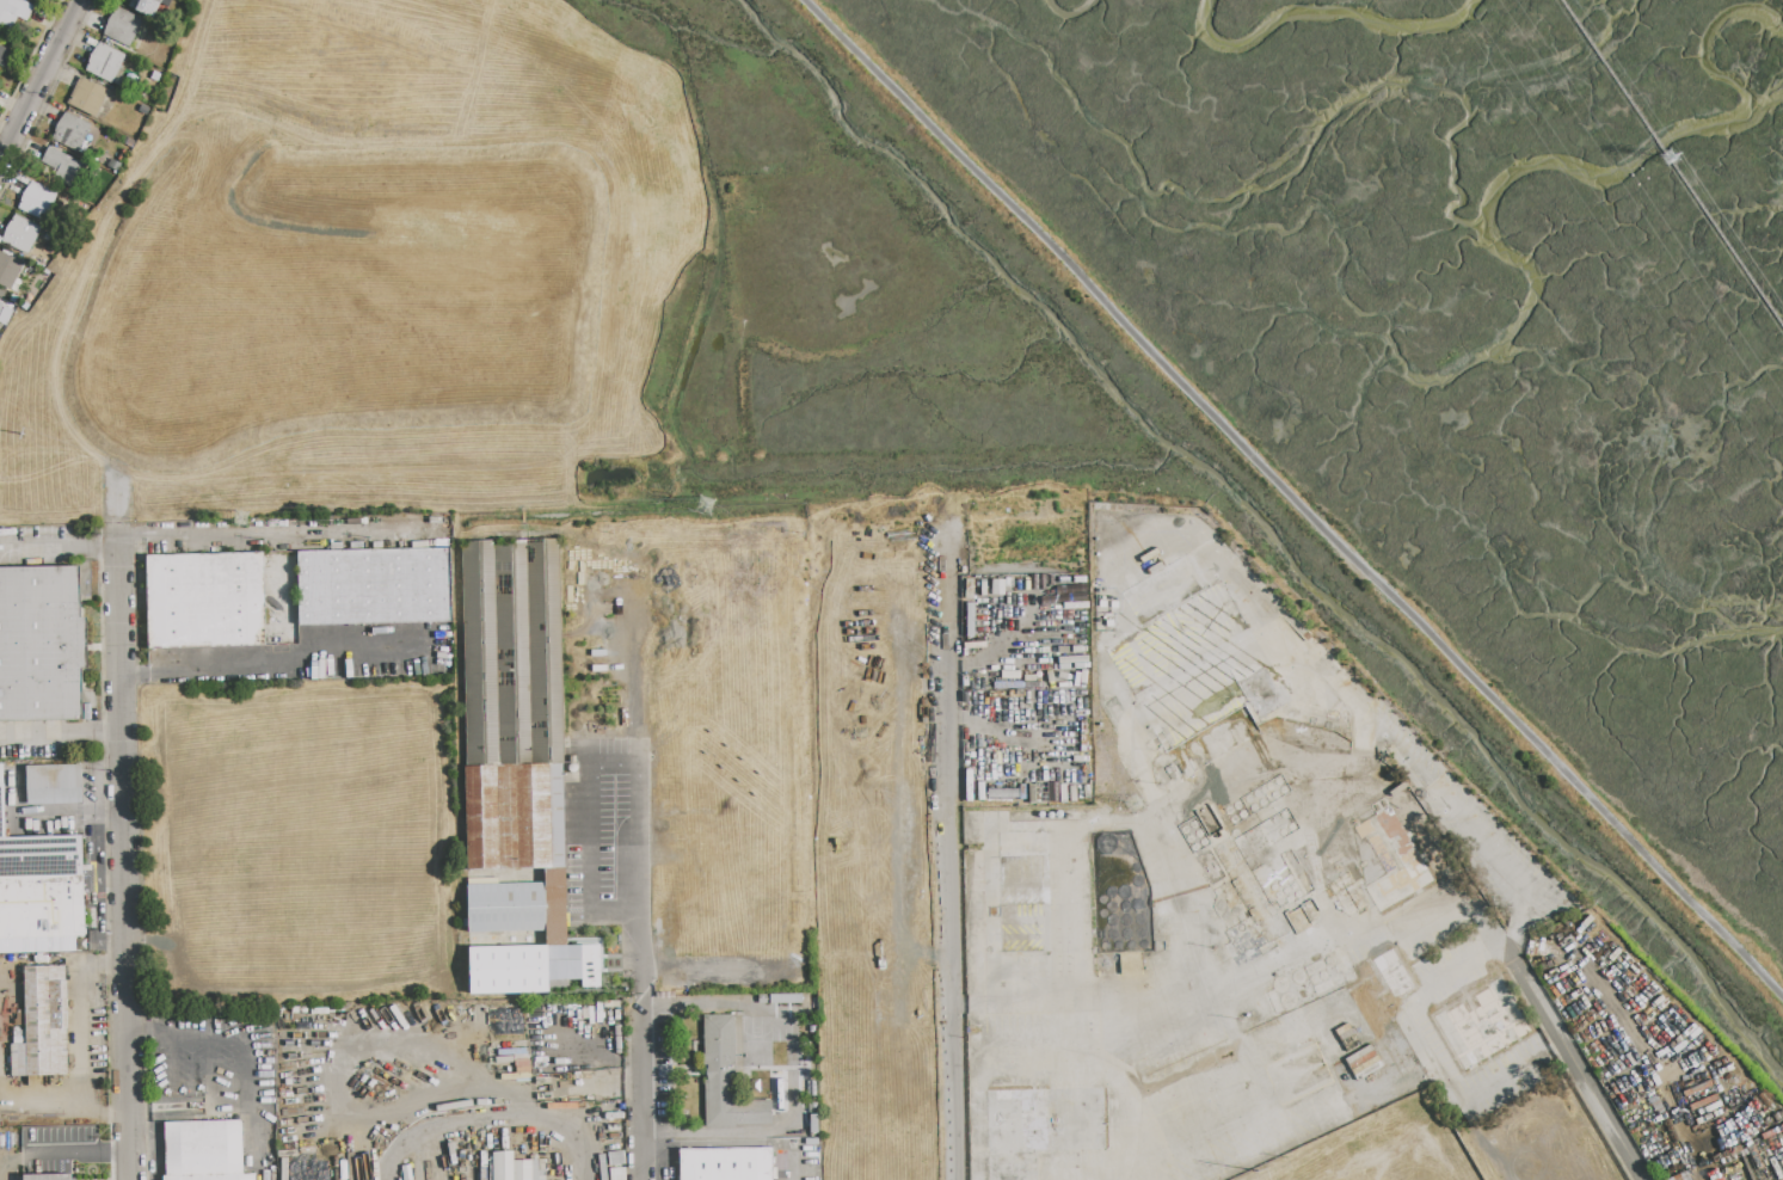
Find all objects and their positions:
building: (147, 6)
building: (13, 12)
building: (122, 27)
building: (4, 55)
road: (29, 59)
building: (104, 63)
road: (39, 82)
street lamp: (45, 96)
road: (47, 96)
building: (87, 97)
building: (70, 133)
power tower: (1677, 155)
road: (1672, 164)
building: (63, 167)
building: (37, 201)
building: (19, 234)
building: (10, 272)
building: (5, 314)
road: (1295, 498)
power tower: (700, 510)
power tower: (232, 521)
road: (57, 546)
building: (374, 586)
building: (204, 601)
building: (41, 645)
road: (1246, 650)
road: (278, 669)
building: (514, 732)
building: (53, 785)
power tower: (1137, 807)
road: (1468, 822)
road: (632, 836)
road: (122, 852)
road: (947, 873)
road: (94, 883)
building: (39, 891)
building: (668, 926)
building: (508, 970)
road: (1250, 973)
building: (42, 1025)
road: (251, 1039)
road: (338, 1057)
road: (168, 1061)
road: (791, 1065)
road: (644, 1067)
road: (1576, 1068)
road: (213, 1075)
building: (726, 1076)
road: (491, 1119)
road: (645, 1126)
road: (159, 1141)
building: (204, 1151)
road: (78, 1153)
road: (646, 1155)
building: (725, 1163)
building: (512, 1167)
building: (47, 1178)

